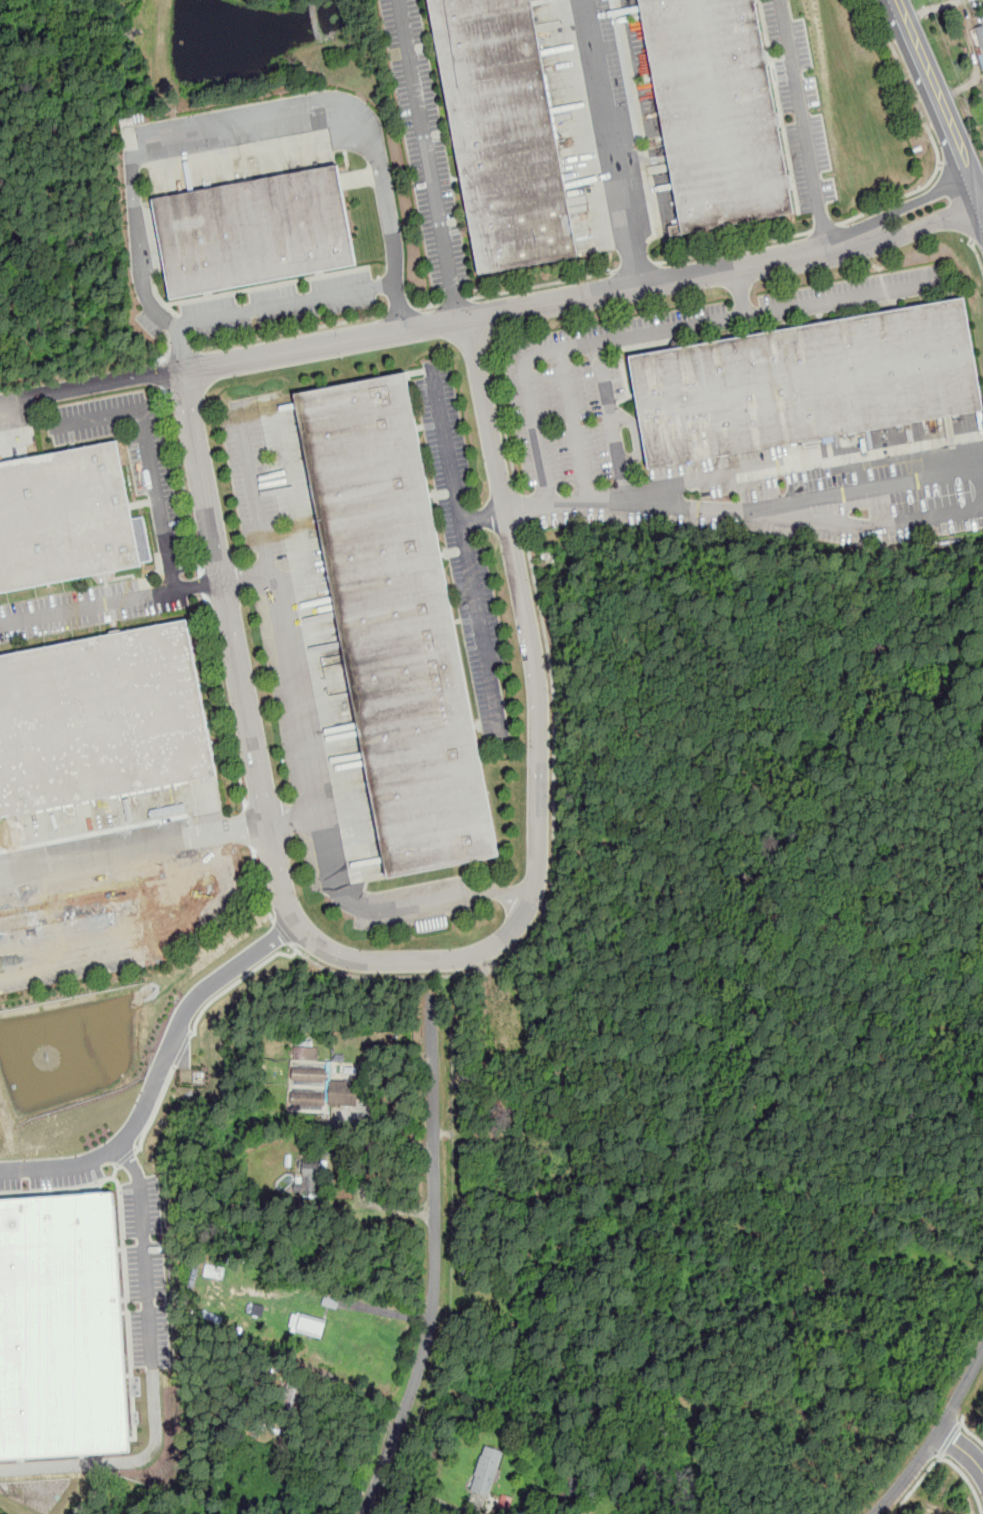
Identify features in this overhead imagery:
building: (980, 43)
road: (937, 108)
building: (721, 110)
road: (802, 124)
road: (233, 125)
building: (506, 132)
road: (932, 138)
road: (614, 144)
road: (428, 161)
road: (910, 203)
road: (920, 228)
road: (825, 229)
building: (258, 232)
road: (735, 249)
road: (976, 253)
road: (637, 267)
road: (543, 286)
road: (843, 297)
road: (285, 301)
road: (456, 302)
road: (429, 306)
road: (400, 311)
road: (522, 311)
road: (289, 332)
road: (579, 339)
road: (168, 348)
road: (179, 354)
road: (165, 374)
building: (808, 382)
road: (91, 384)
road: (502, 411)
road: (488, 416)
road: (612, 418)
road: (577, 420)
road: (637, 436)
road: (150, 457)
road: (743, 470)
road: (203, 473)
road: (183, 481)
road: (254, 487)
road: (805, 505)
road: (522, 512)
road: (483, 516)
building: (65, 519)
road: (467, 553)
road: (247, 573)
road: (199, 582)
road: (202, 584)
road: (88, 606)
building: (399, 627)
road: (225, 701)
building: (102, 720)
road: (554, 759)
road: (278, 818)
road: (250, 828)
road: (261, 886)
road: (394, 903)
road: (139, 914)
road: (281, 933)
road: (122, 961)
road: (442, 962)
road: (381, 978)
road: (236, 982)
road: (215, 983)
building: (305, 1052)
building: (338, 1055)
building: (196, 1058)
building: (309, 1074)
building: (343, 1093)
building: (309, 1101)
road: (143, 1109)
road: (64, 1170)
building: (311, 1176)
road: (434, 1265)
road: (387, 1313)
building: (305, 1325)
building: (61, 1329)
road: (152, 1376)
road: (961, 1423)
road: (968, 1431)
road: (934, 1435)
road: (950, 1439)
road: (960, 1451)
road: (940, 1457)
road: (945, 1460)
building: (487, 1470)

